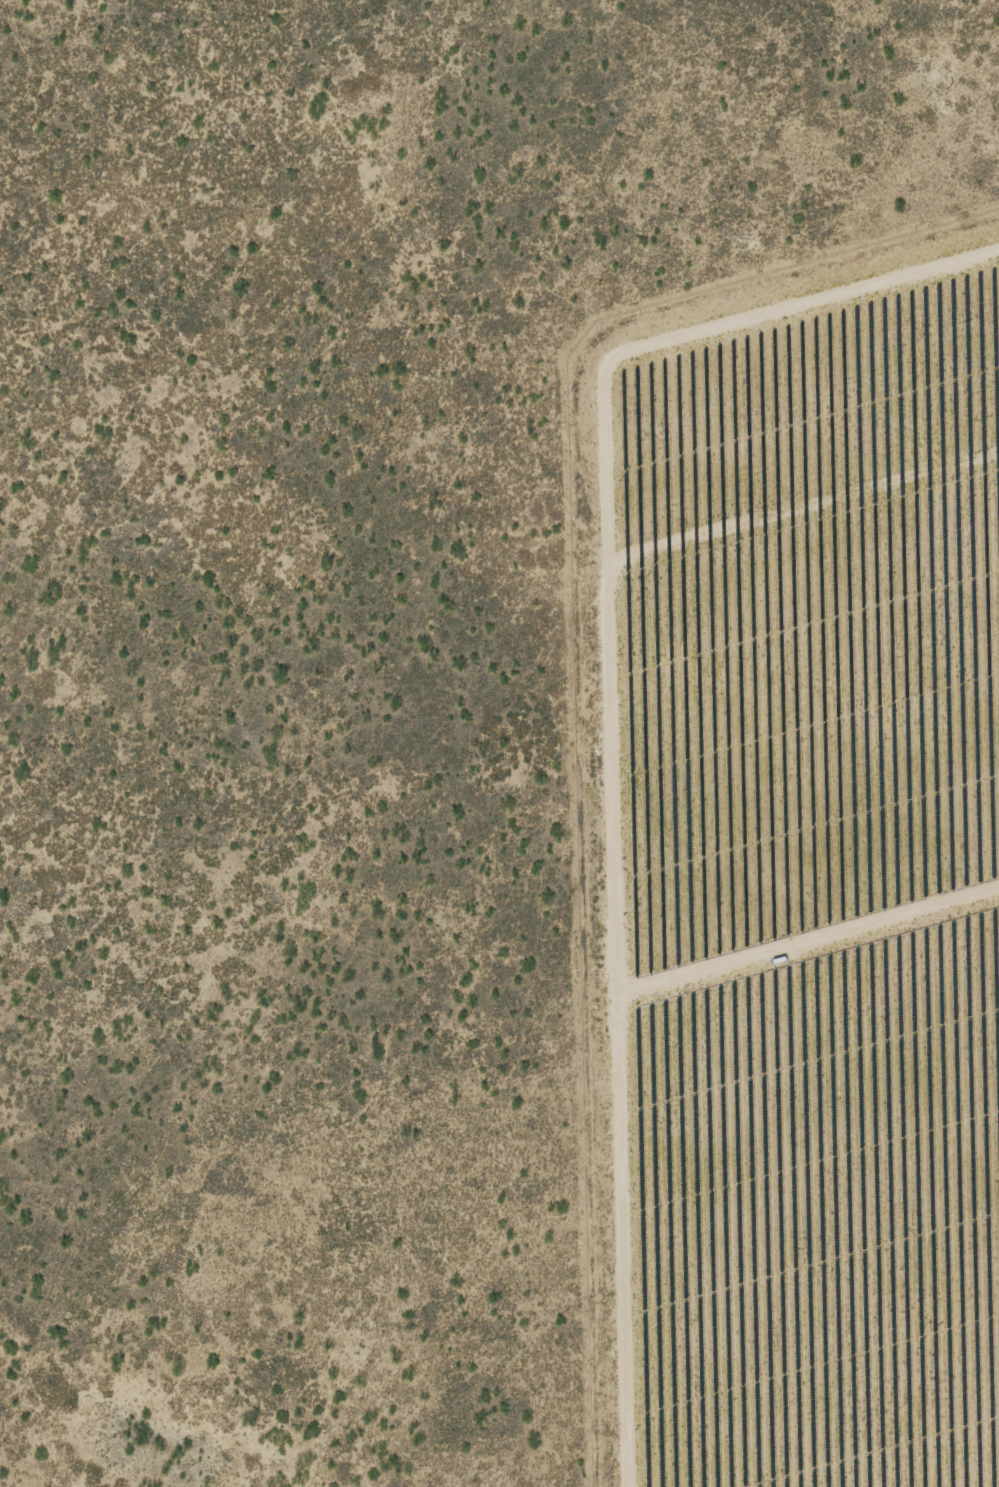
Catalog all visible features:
solar farm: (793, 867)

